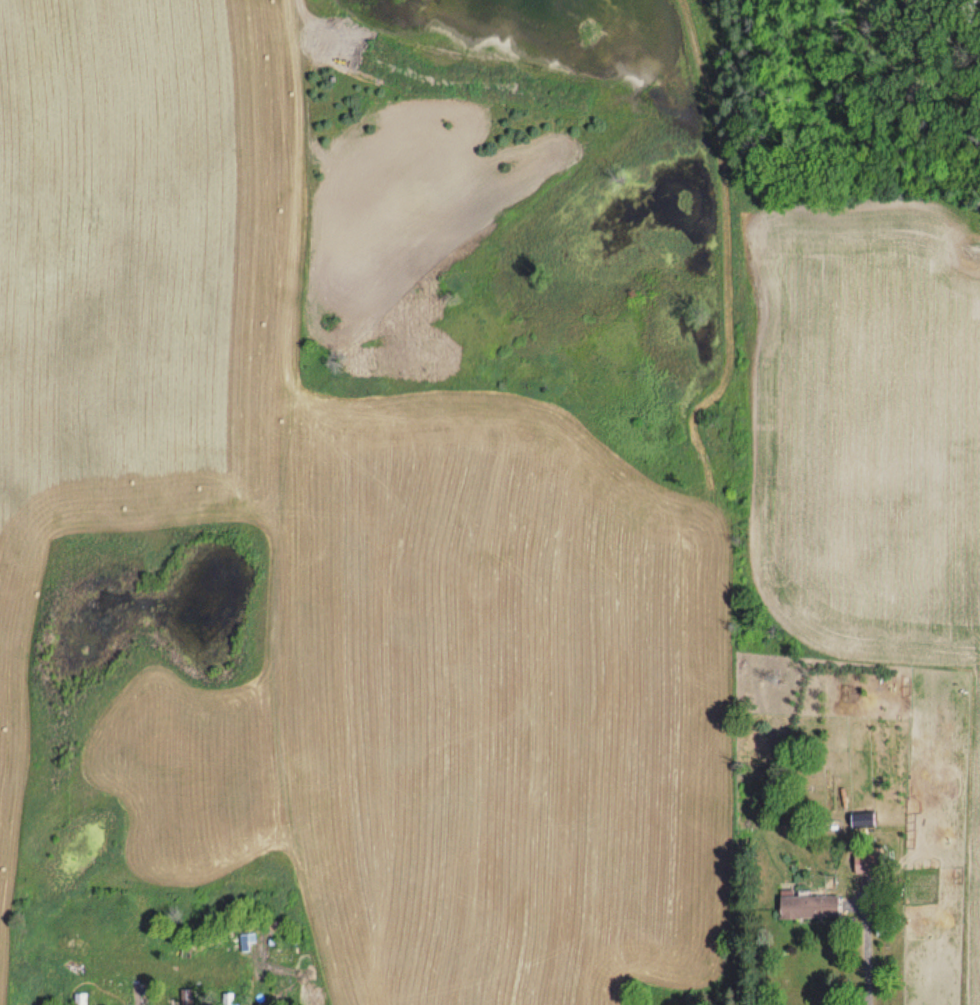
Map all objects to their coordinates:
building: (863, 822)
building: (869, 864)
building: (810, 907)
building: (228, 1000)

